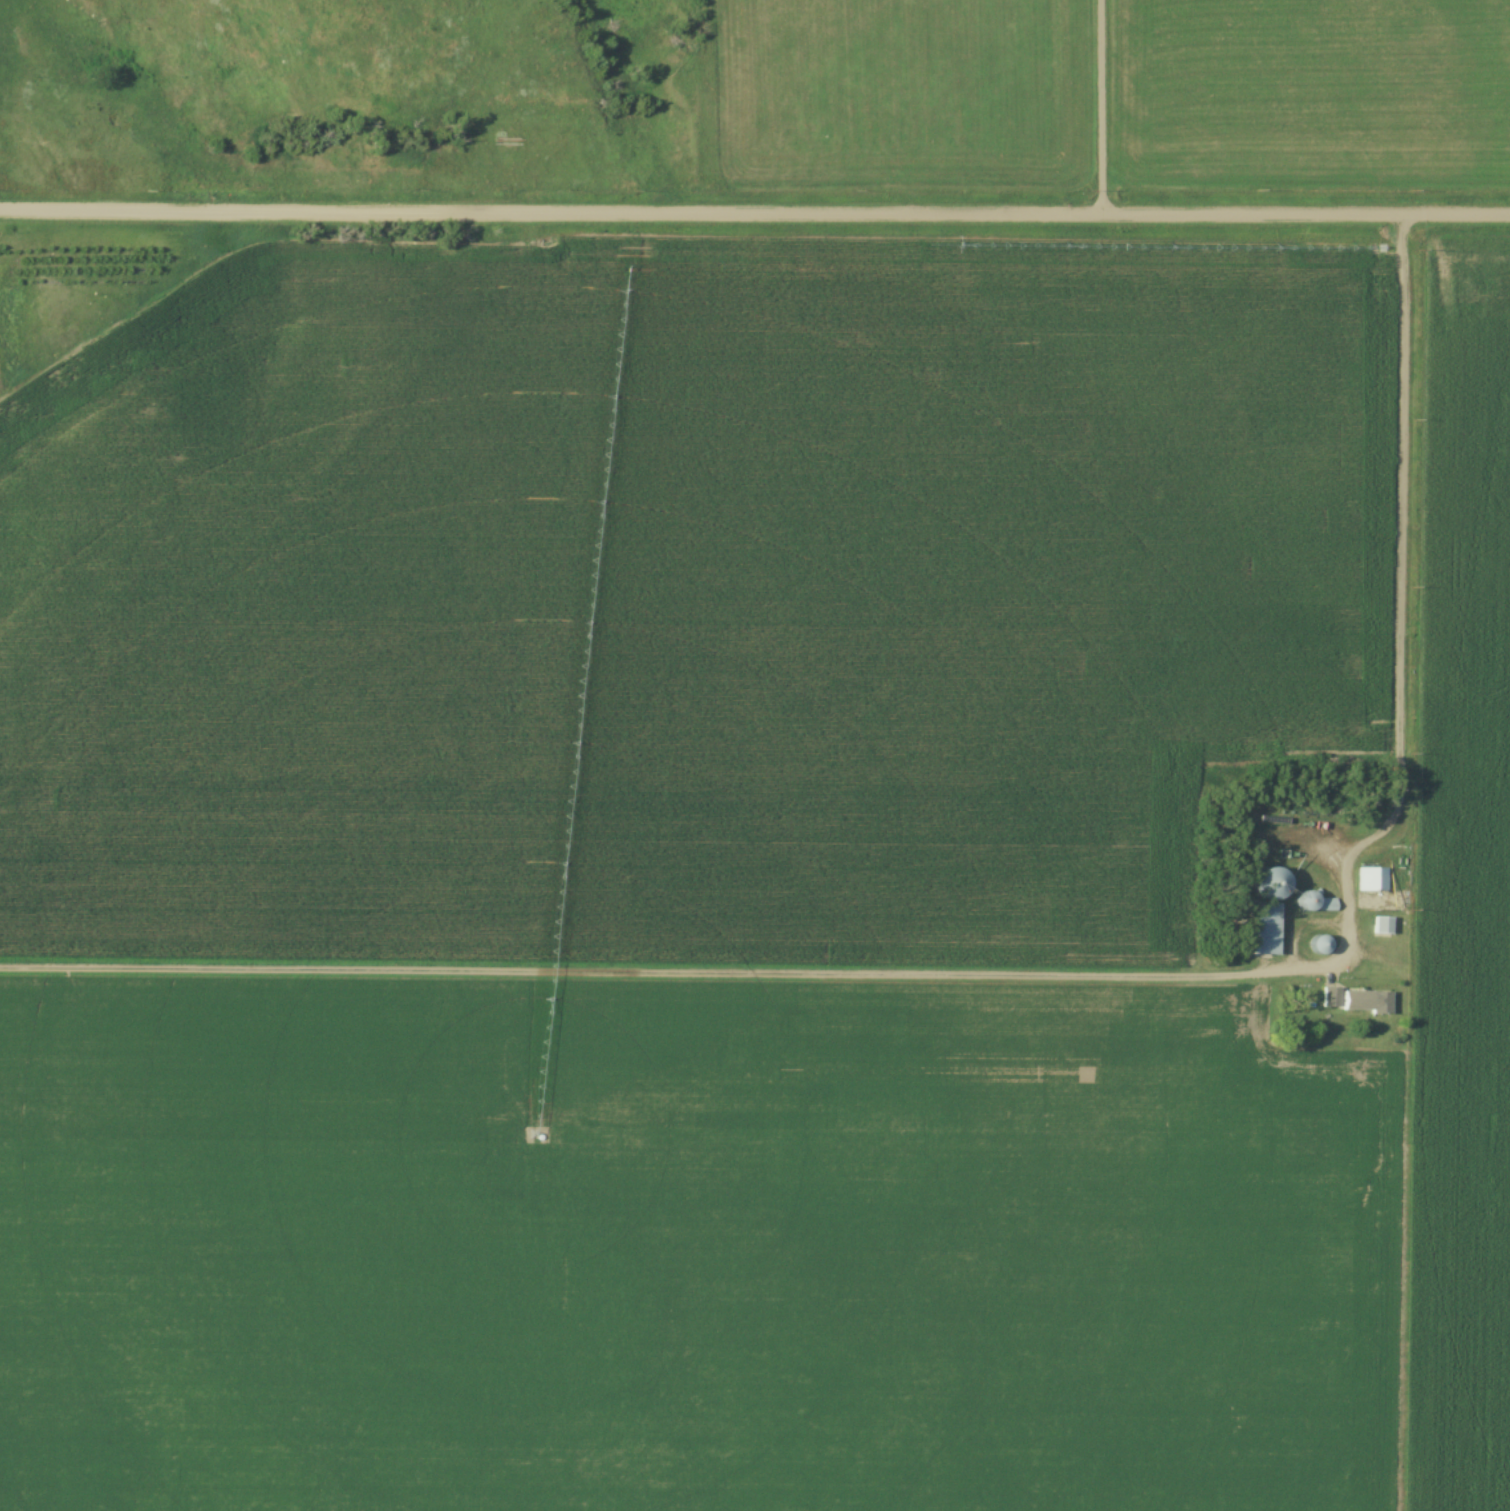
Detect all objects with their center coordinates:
road: (1097, 108)
road: (754, 215)
building: (1369, 879)
building: (1263, 884)
building: (1260, 929)
building: (1317, 941)
road: (666, 975)
building: (1354, 1000)

